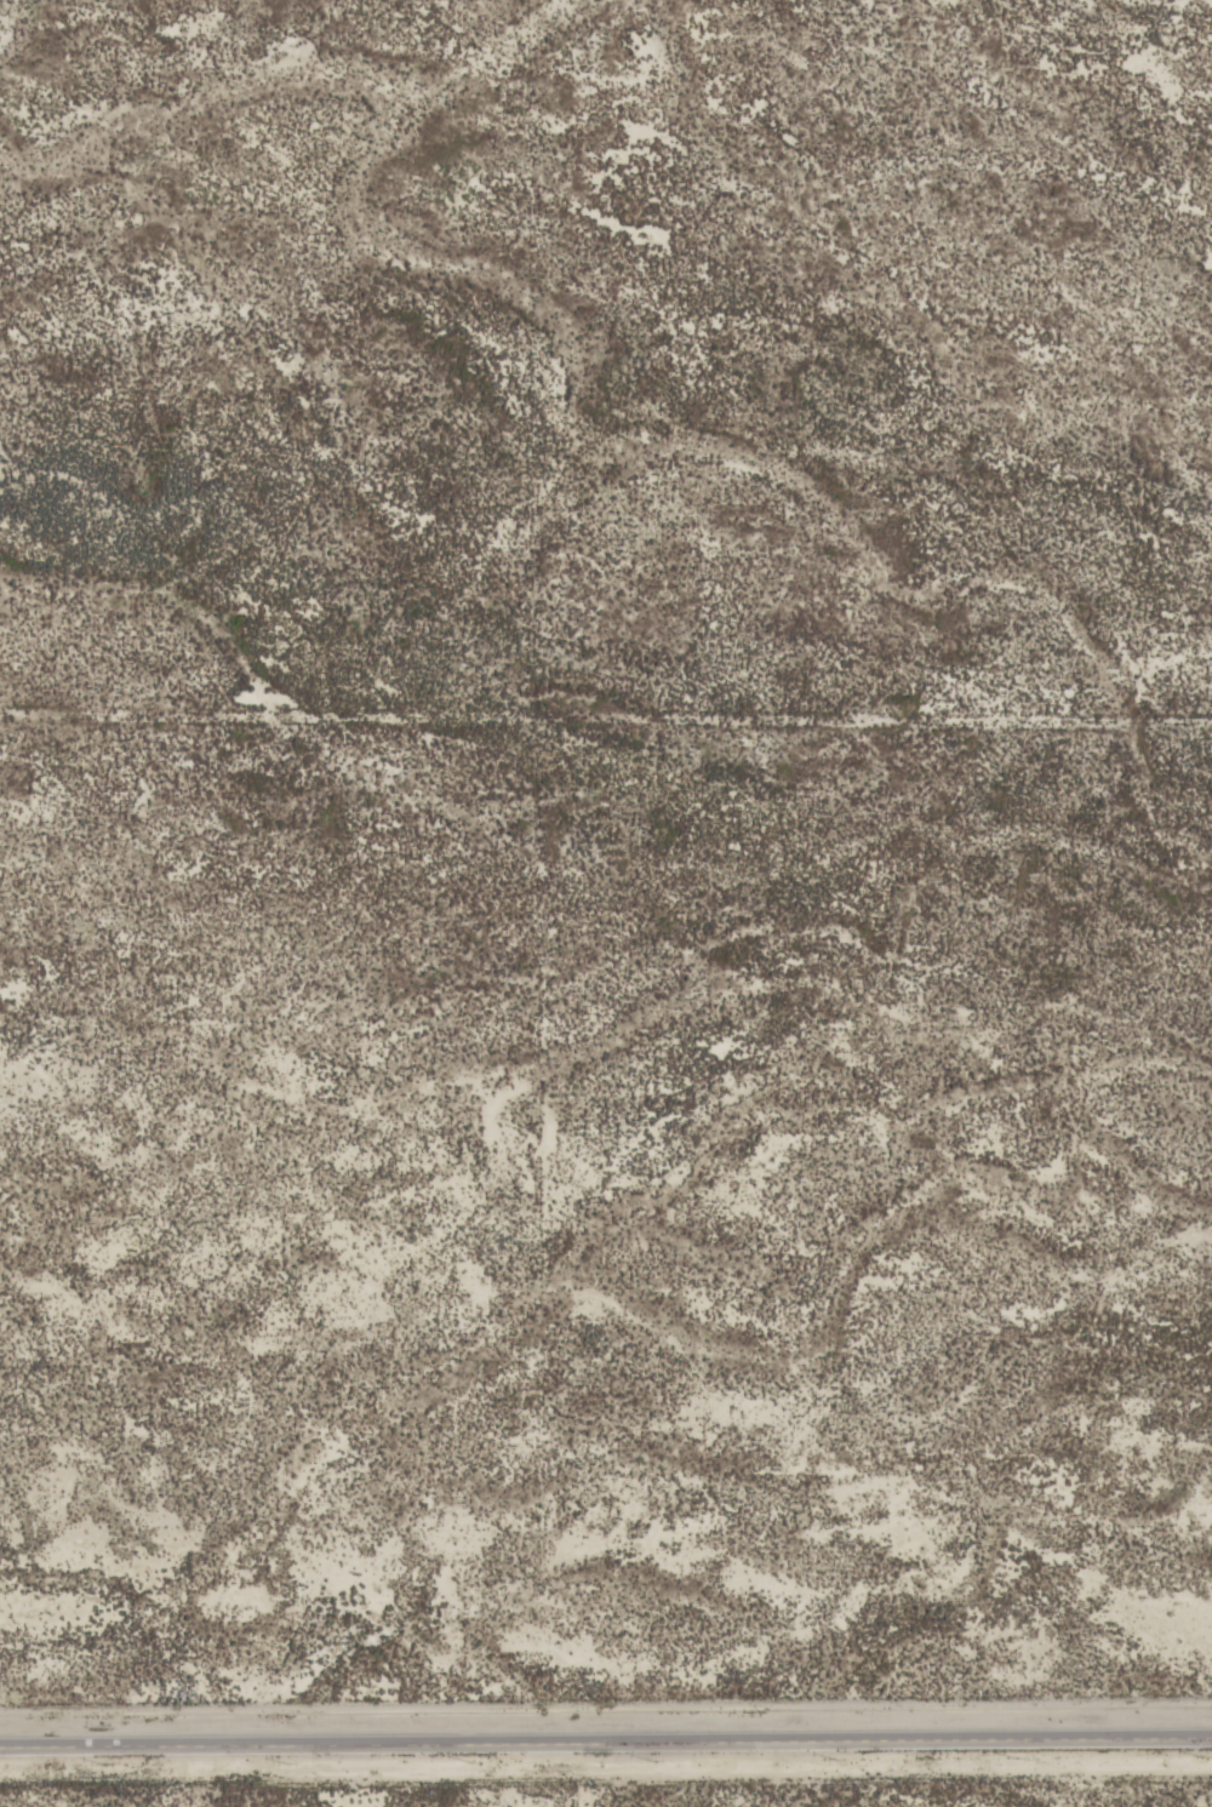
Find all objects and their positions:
road: (606, 1749)

